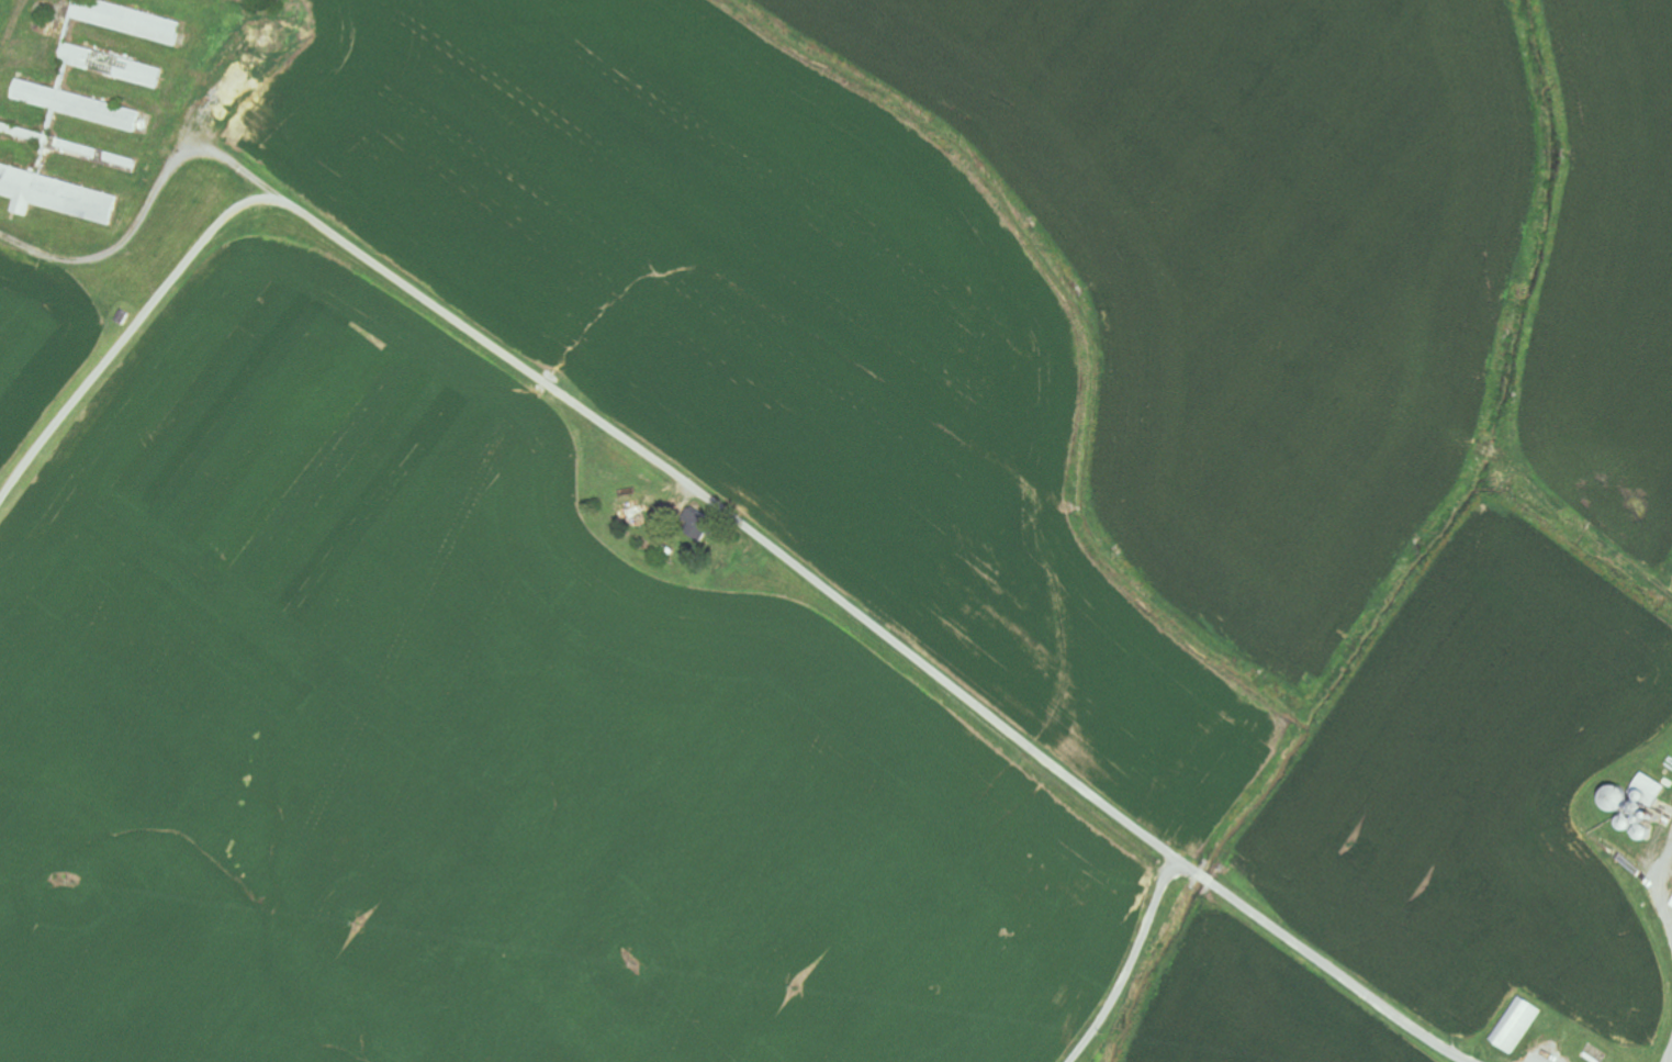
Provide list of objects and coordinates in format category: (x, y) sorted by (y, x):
building: (256, 0)
building: (128, 21)
building: (112, 66)
building: (77, 107)
building: (56, 195)
building: (698, 527)
road: (939, 680)
building: (1514, 1027)

